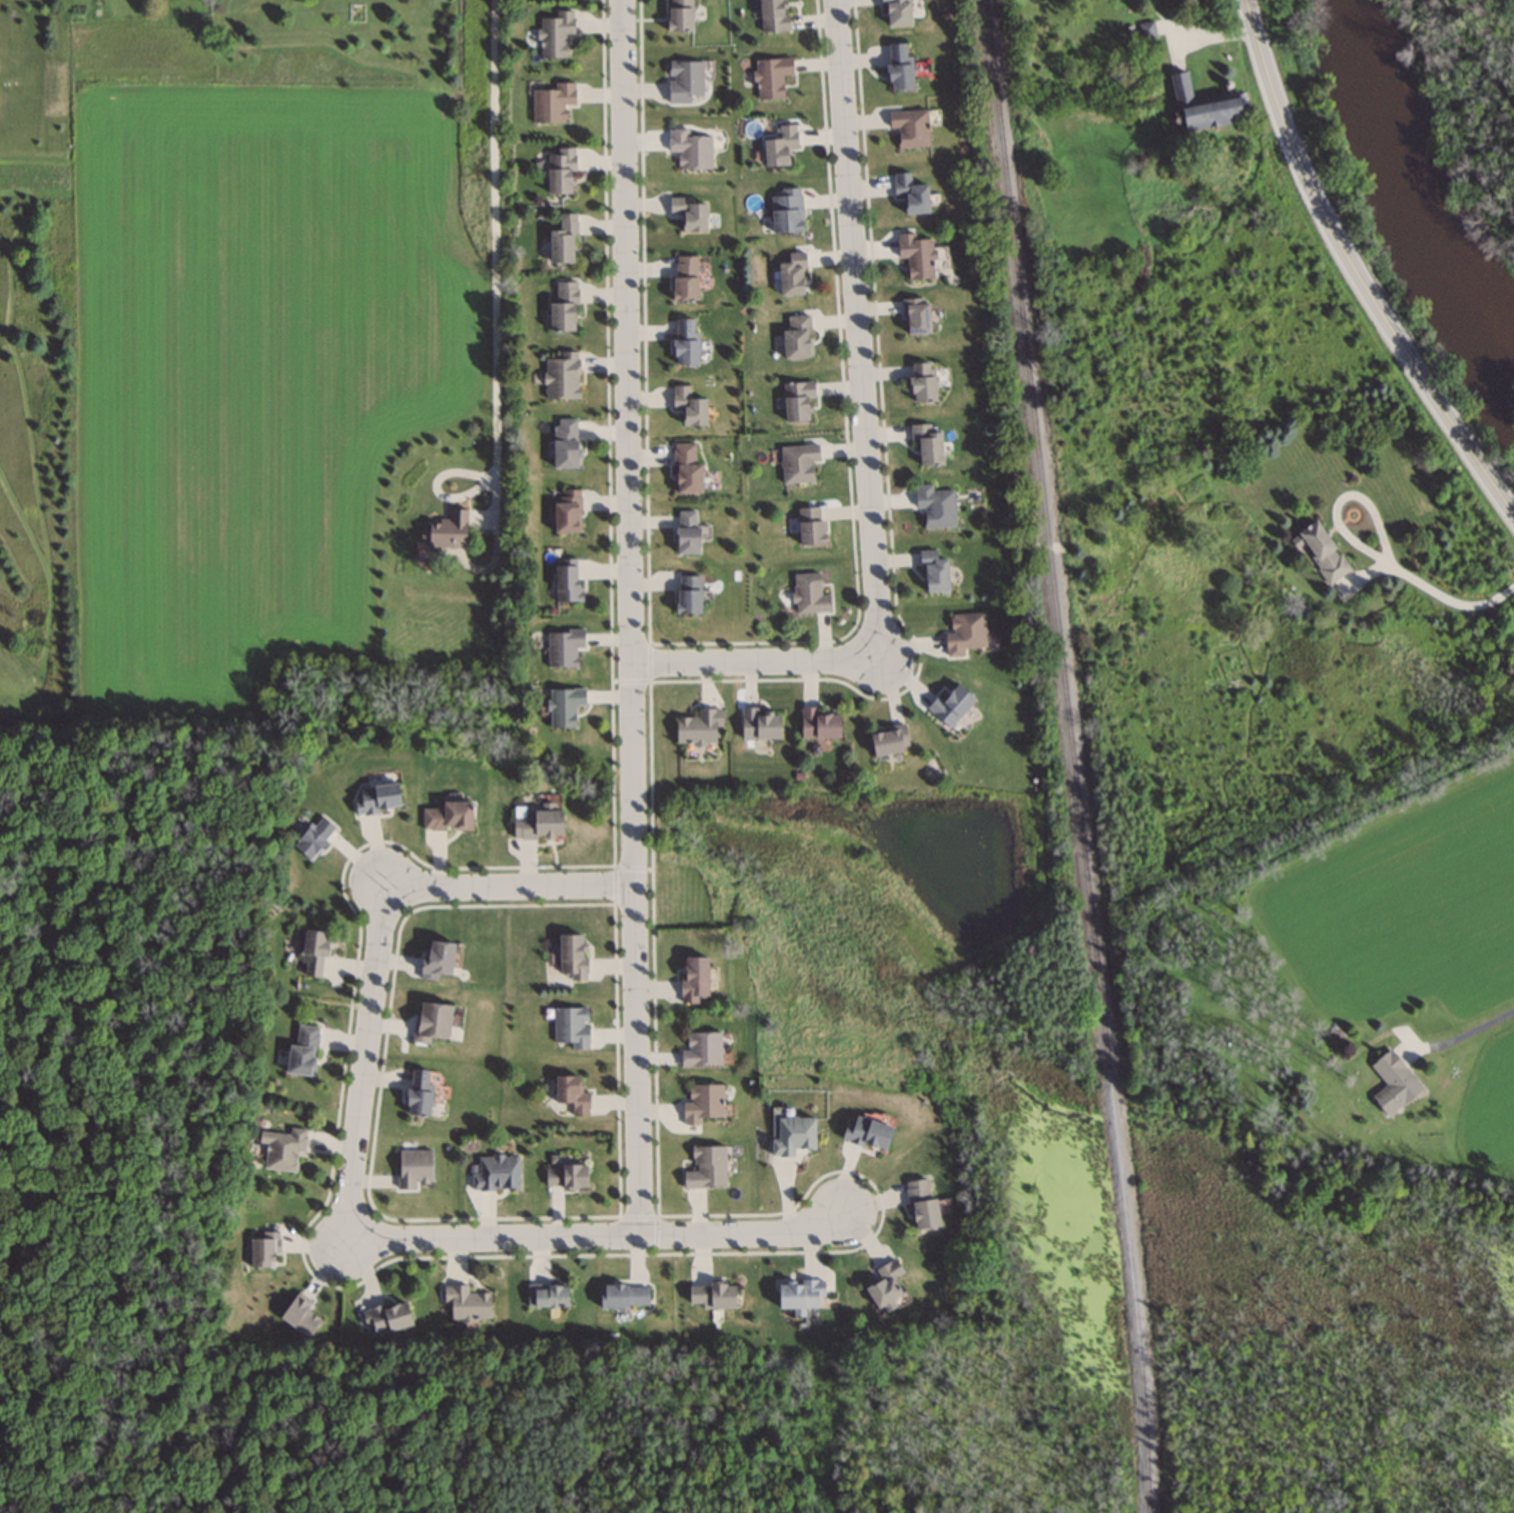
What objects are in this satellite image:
building: (897, 13)
building: (680, 16)
building: (773, 16)
building: (1147, 31)
building: (555, 36)
building: (898, 68)
building: (771, 79)
building: (684, 83)
building: (1181, 90)
building: (552, 104)
building: (1213, 115)
building: (910, 129)
building: (780, 148)
building: (690, 151)
building: (561, 173)
building: (911, 195)
river: (1426, 209)
building: (787, 213)
building: (690, 215)
building: (563, 242)
road: (492, 250)
building: (916, 257)
road: (1348, 275)
building: (792, 277)
building: (685, 280)
building: (564, 309)
building: (917, 317)
road: (855, 329)
building: (797, 339)
building: (685, 344)
building: (562, 378)
building: (922, 384)
crop: (251, 387)
building: (798, 404)
building: (689, 408)
building: (565, 445)
building: (927, 446)
building: (798, 465)
building: (687, 471)
road: (1340, 497)
building: (936, 508)
building: (567, 515)
building: (811, 529)
building: (449, 533)
building: (686, 535)
building: (1323, 554)
building: (934, 575)
building: (566, 582)
building: (688, 597)
building: (809, 597)
road: (1447, 602)
road: (627, 617)
building: (965, 636)
building: (563, 648)
road: (753, 660)
building: (950, 705)
building: (564, 707)
building: (819, 724)
building: (761, 725)
building: (699, 728)
building: (889, 741)
railway: (1067, 756)
building: (377, 798)
building: (448, 817)
building: (539, 825)
building: (314, 838)
road: (507, 883)
building: (314, 954)
building: (572, 957)
building: (437, 959)
building: (695, 979)
road: (321, 1002)
building: (432, 1022)
building: (571, 1027)
road: (1465, 1032)
building: (702, 1050)
building: (302, 1052)
road: (362, 1058)
building: (1393, 1083)
building: (419, 1092)
building: (571, 1094)
building: (703, 1104)
building: (868, 1133)
building: (792, 1136)
building: (283, 1149)
building: (414, 1169)
building: (706, 1169)
building: (496, 1173)
building: (566, 1176)
building: (922, 1206)
road: (594, 1234)
building: (263, 1251)
building: (885, 1284)
building: (547, 1295)
building: (624, 1296)
building: (712, 1296)
building: (800, 1296)
building: (467, 1304)
building: (300, 1316)
building: (387, 1318)

